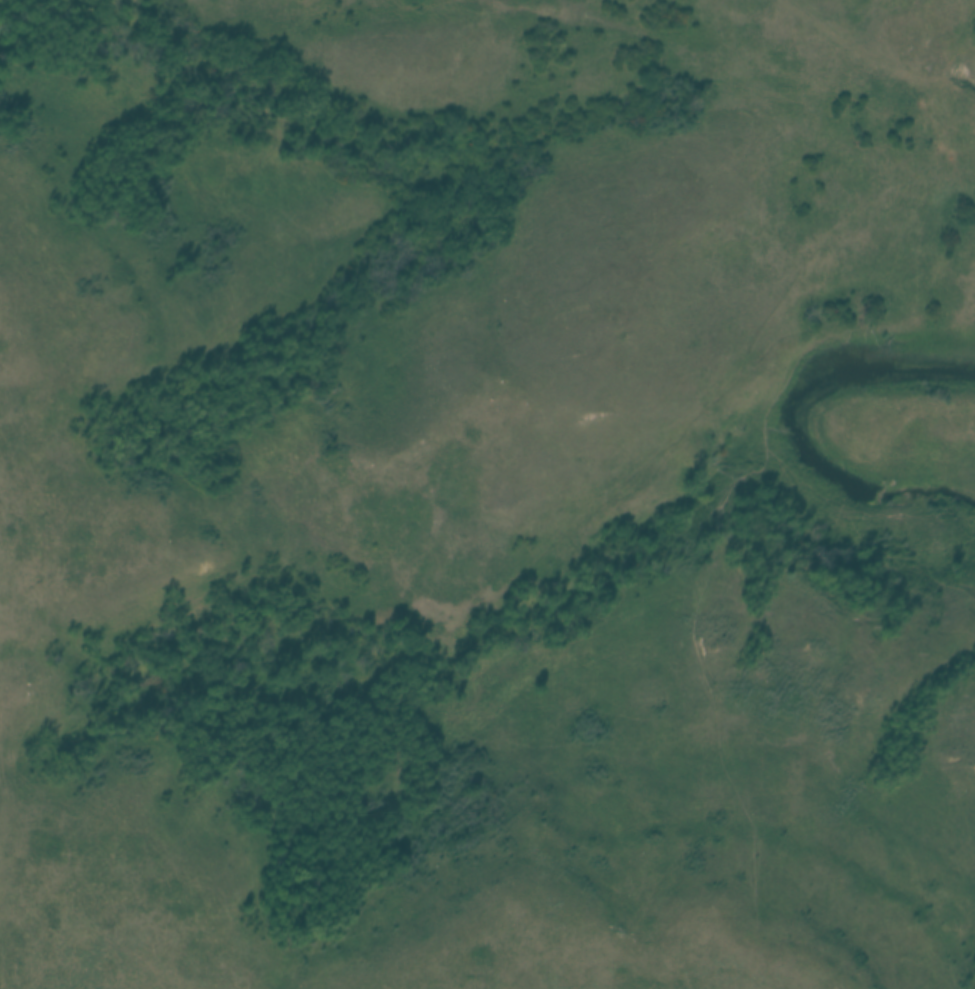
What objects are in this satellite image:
road: (795, 7)

